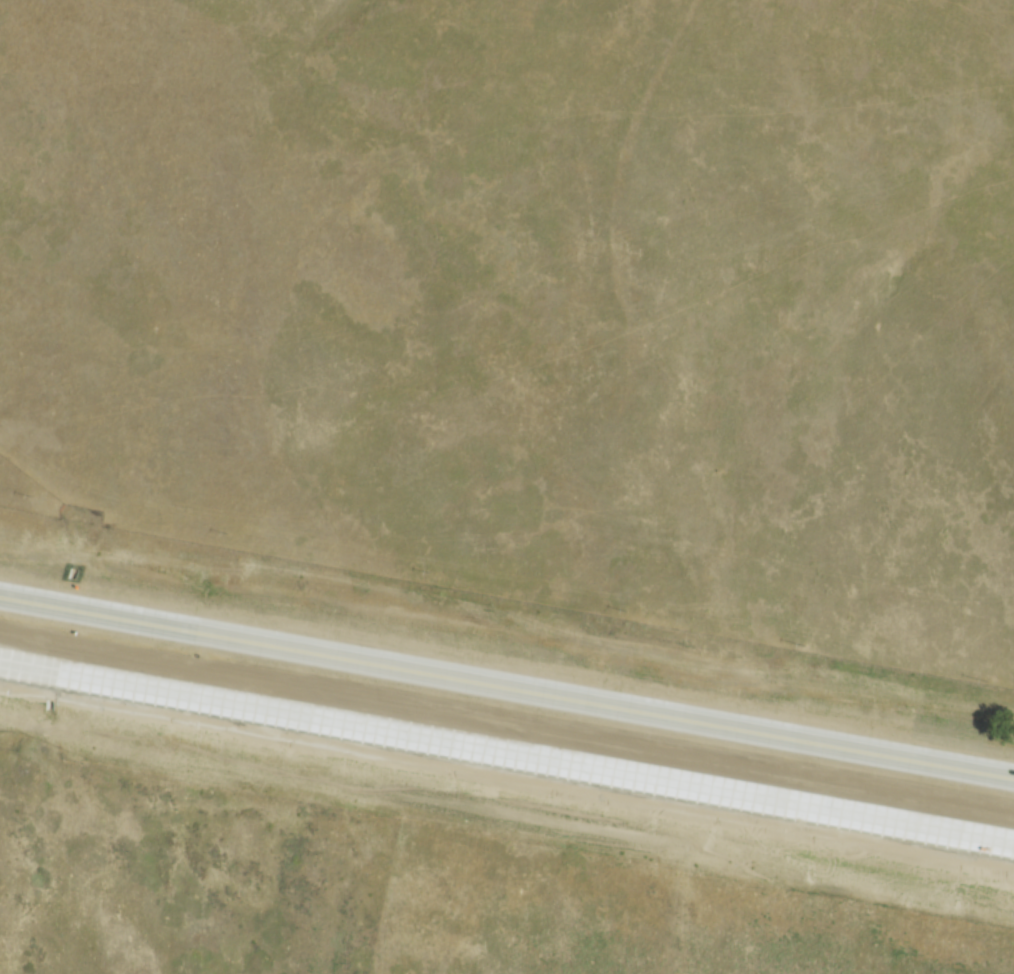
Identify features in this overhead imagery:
road: (507, 688)
road: (507, 749)

